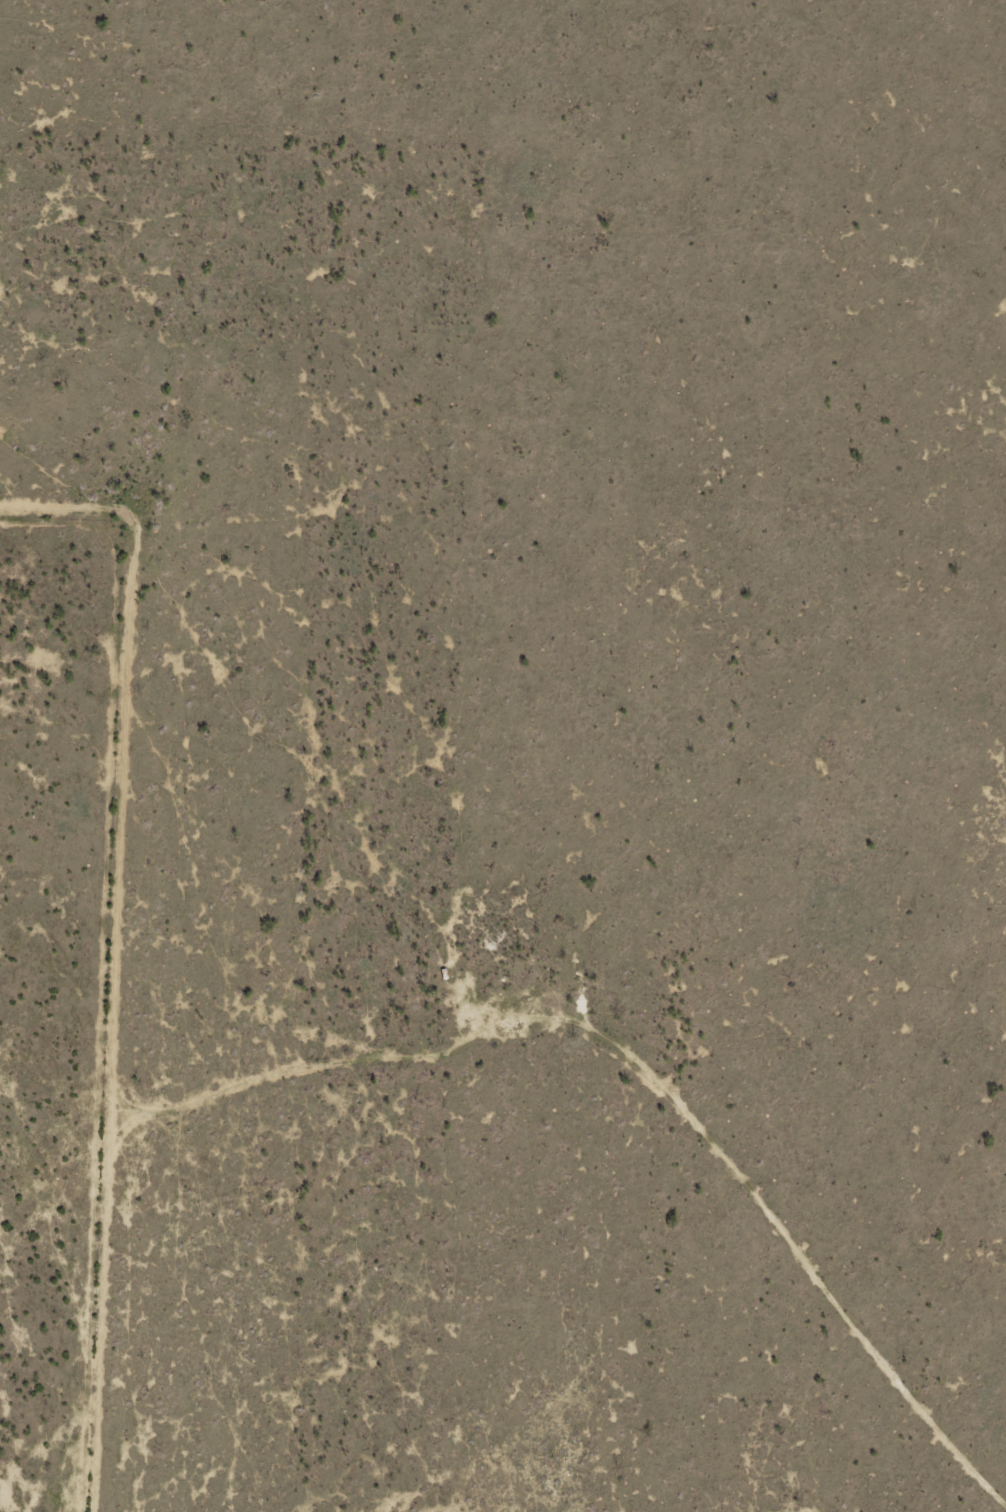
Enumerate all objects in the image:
road: (779, 1281)
road: (92, 1310)
road: (185, 1407)

